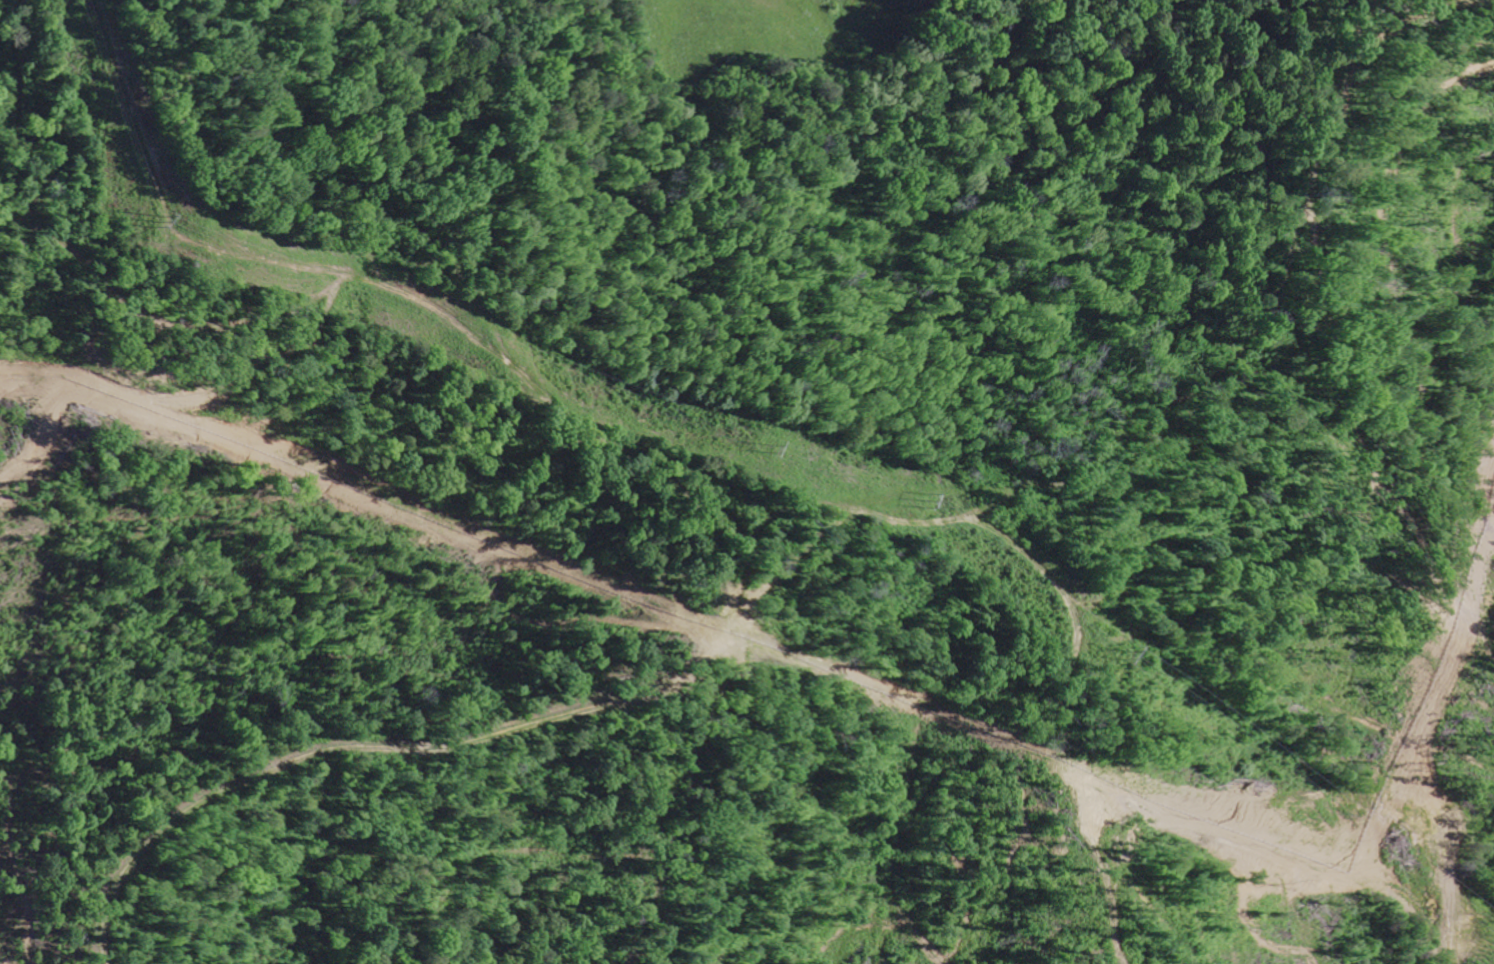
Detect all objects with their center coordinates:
power tower: (146, 216)
power tower: (765, 440)
power tower: (913, 493)
power tower: (1116, 648)

